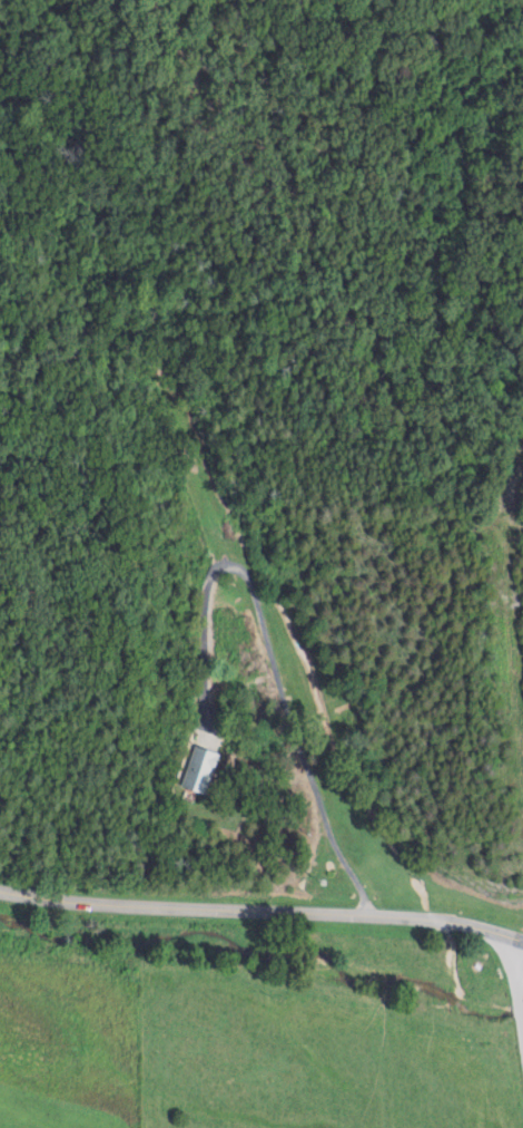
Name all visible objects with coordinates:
road: (270, 650)
building: (198, 768)
road: (259, 912)
road: (521, 939)
road: (519, 967)

